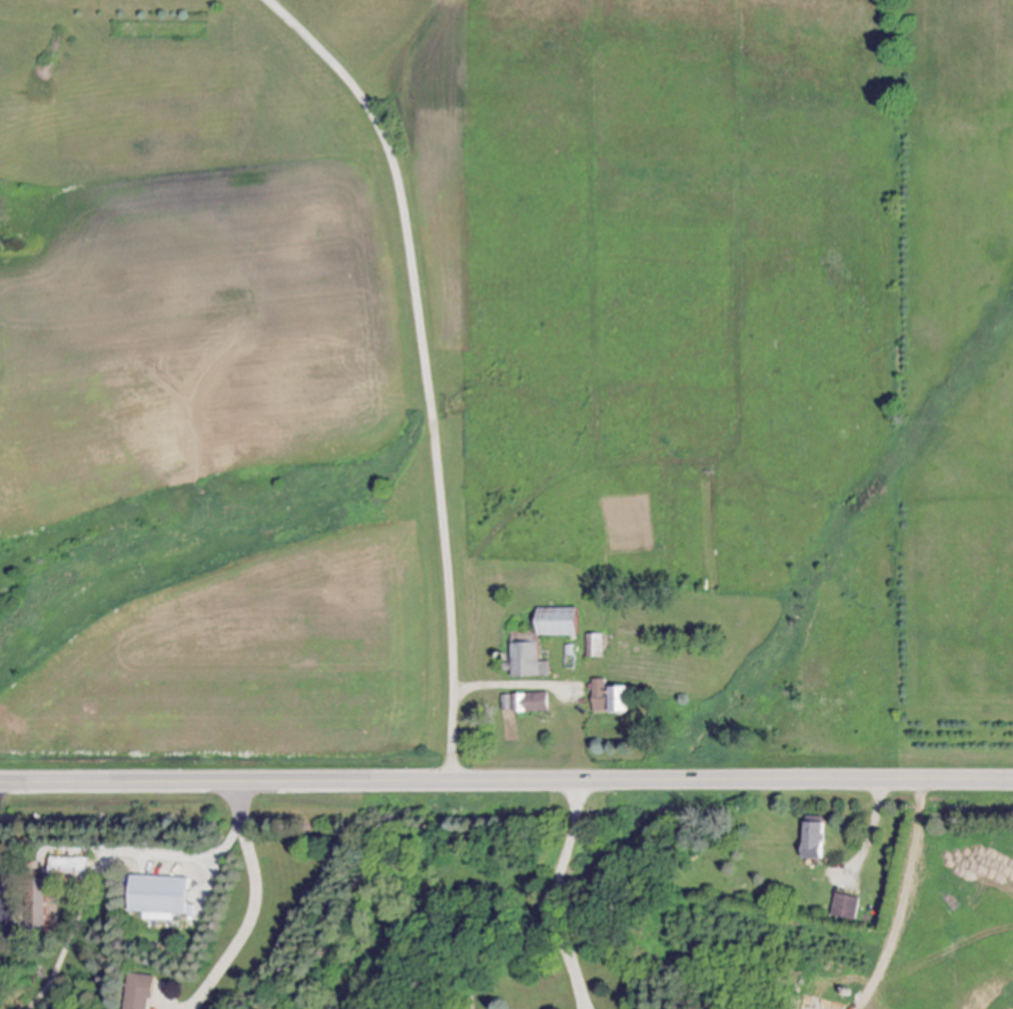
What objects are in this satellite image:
road: (425, 366)
building: (566, 623)
building: (605, 696)
building: (629, 701)
building: (510, 704)
building: (537, 704)
road: (506, 778)
road: (874, 824)
building: (818, 842)
road: (190, 856)
building: (75, 870)
road: (556, 893)
building: (164, 898)
road: (255, 902)
road: (2, 904)
building: (847, 908)
building: (146, 992)

